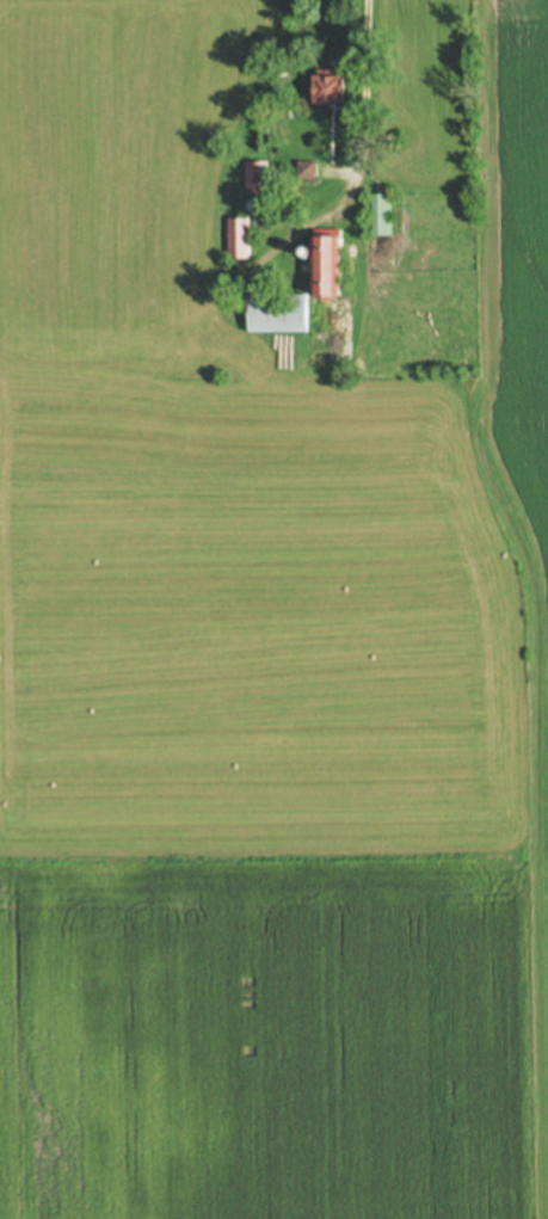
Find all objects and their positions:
building: (334, 86)
building: (307, 168)
building: (254, 177)
building: (257, 205)
road: (326, 211)
building: (378, 214)
building: (266, 224)
building: (238, 239)
building: (303, 250)
building: (326, 260)
building: (271, 283)
building: (279, 313)

